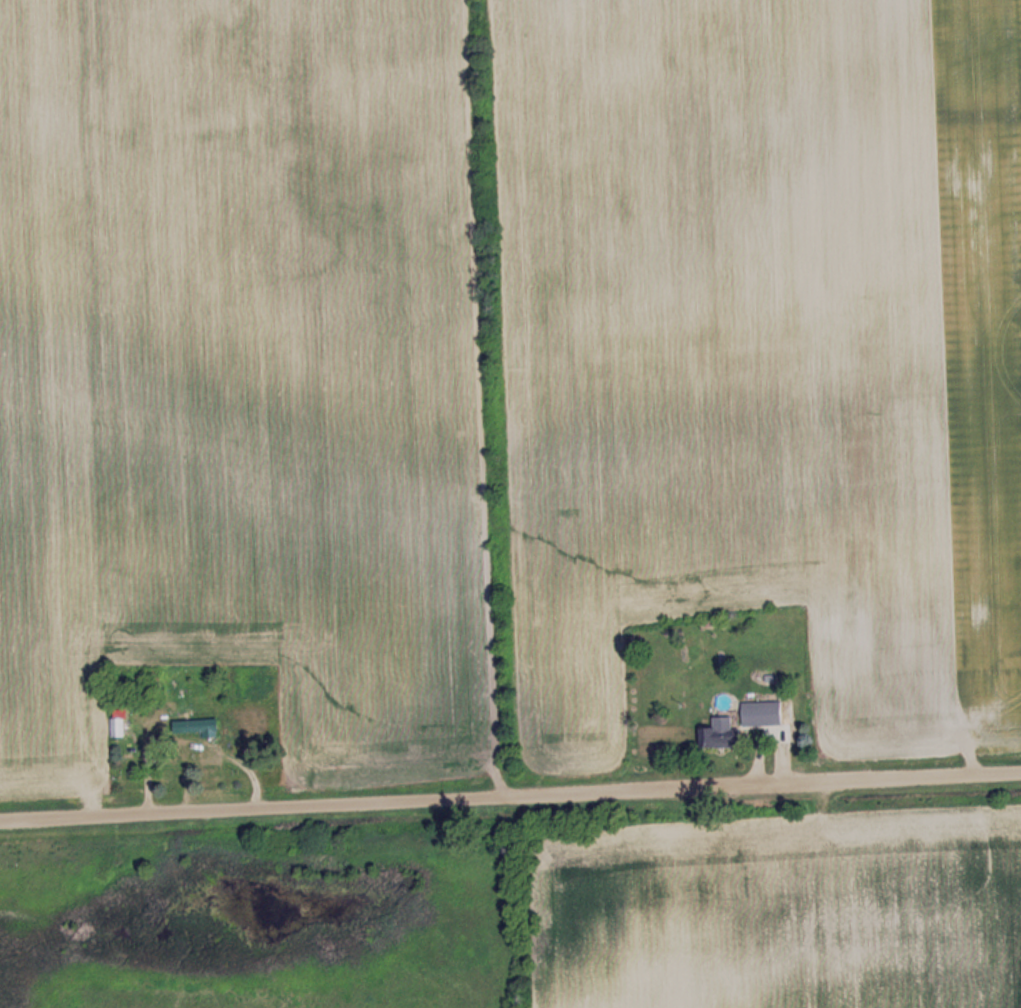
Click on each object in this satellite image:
building: (761, 713)
building: (114, 722)
building: (190, 728)
building: (718, 734)
road: (510, 797)

